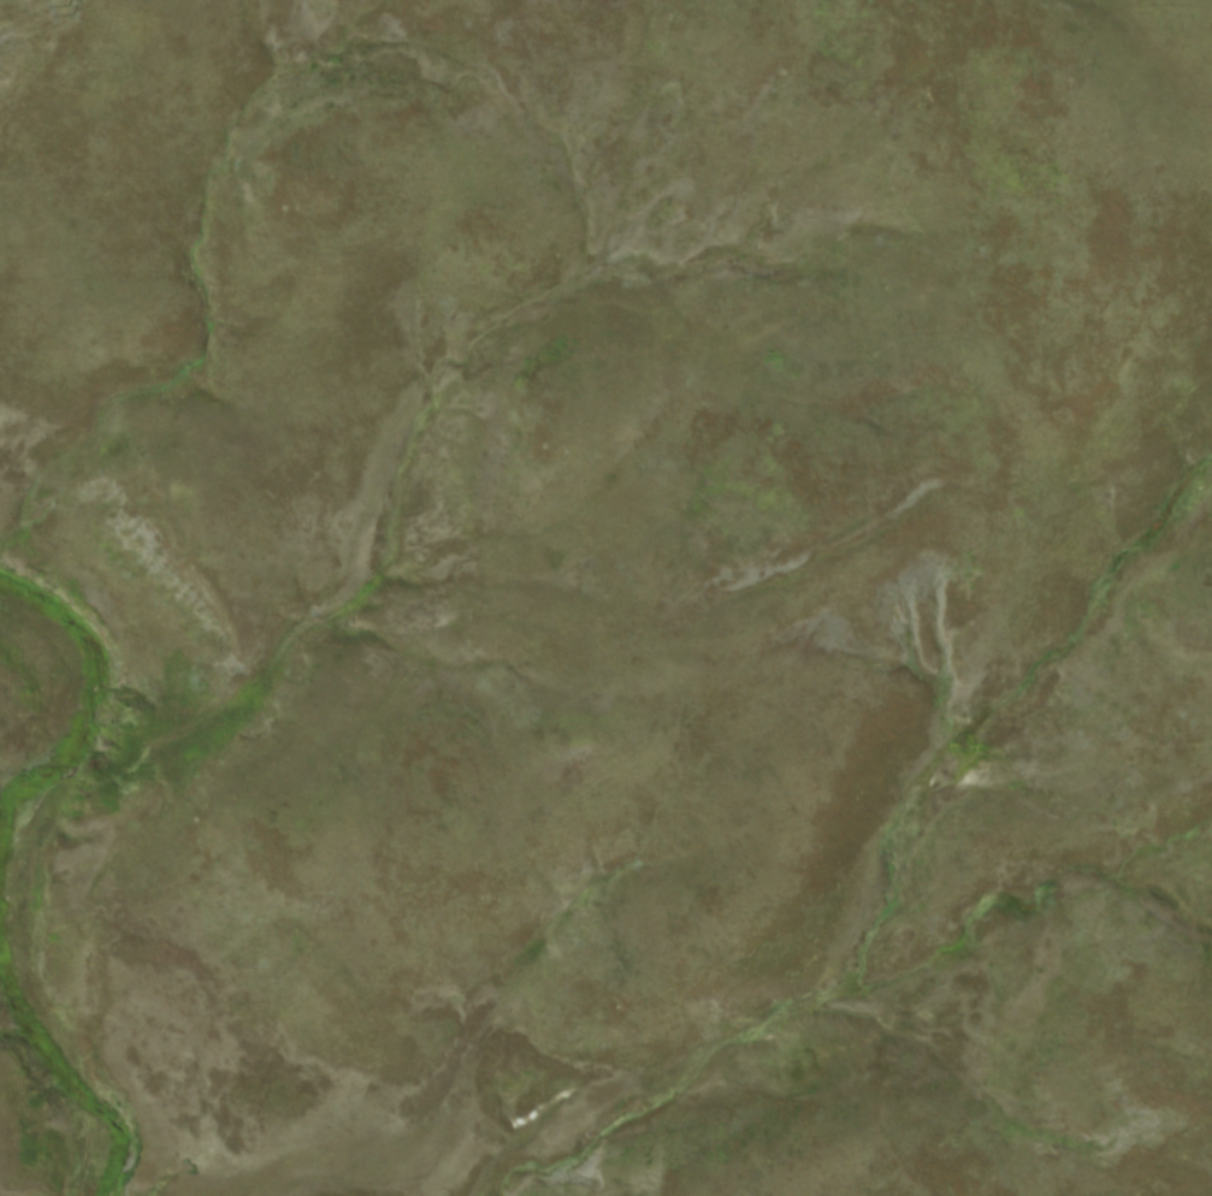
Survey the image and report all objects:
power tower: (67, 10)

